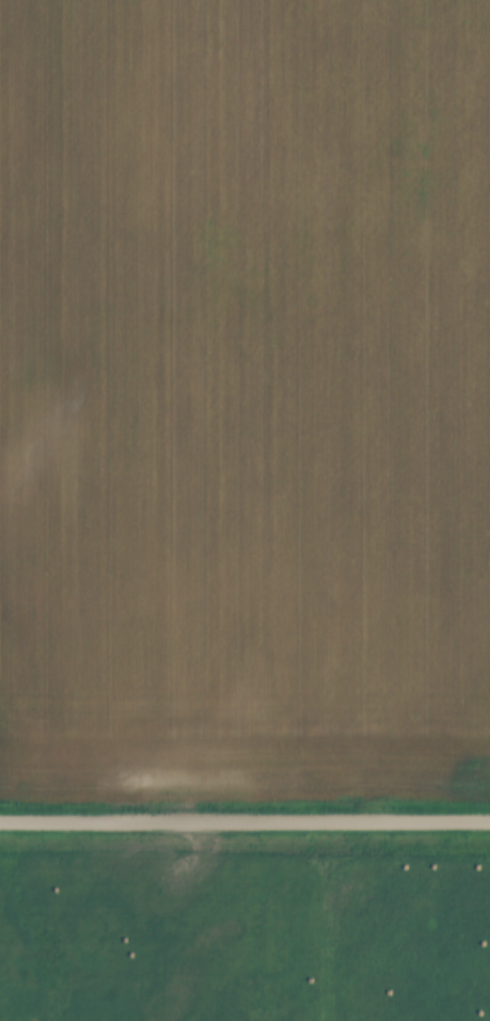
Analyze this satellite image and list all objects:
road: (245, 818)

